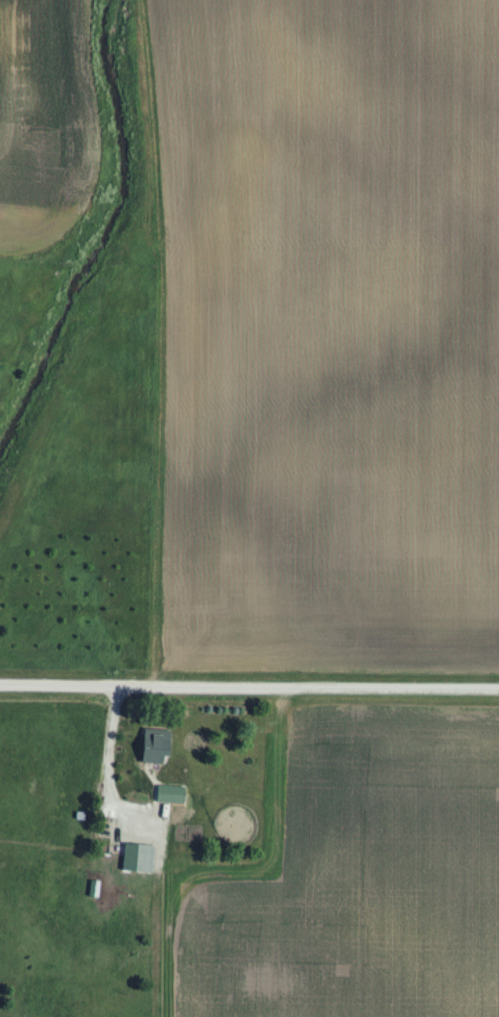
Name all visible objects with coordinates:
road: (249, 683)
building: (154, 747)
road: (109, 766)
building: (170, 794)
building: (140, 859)

